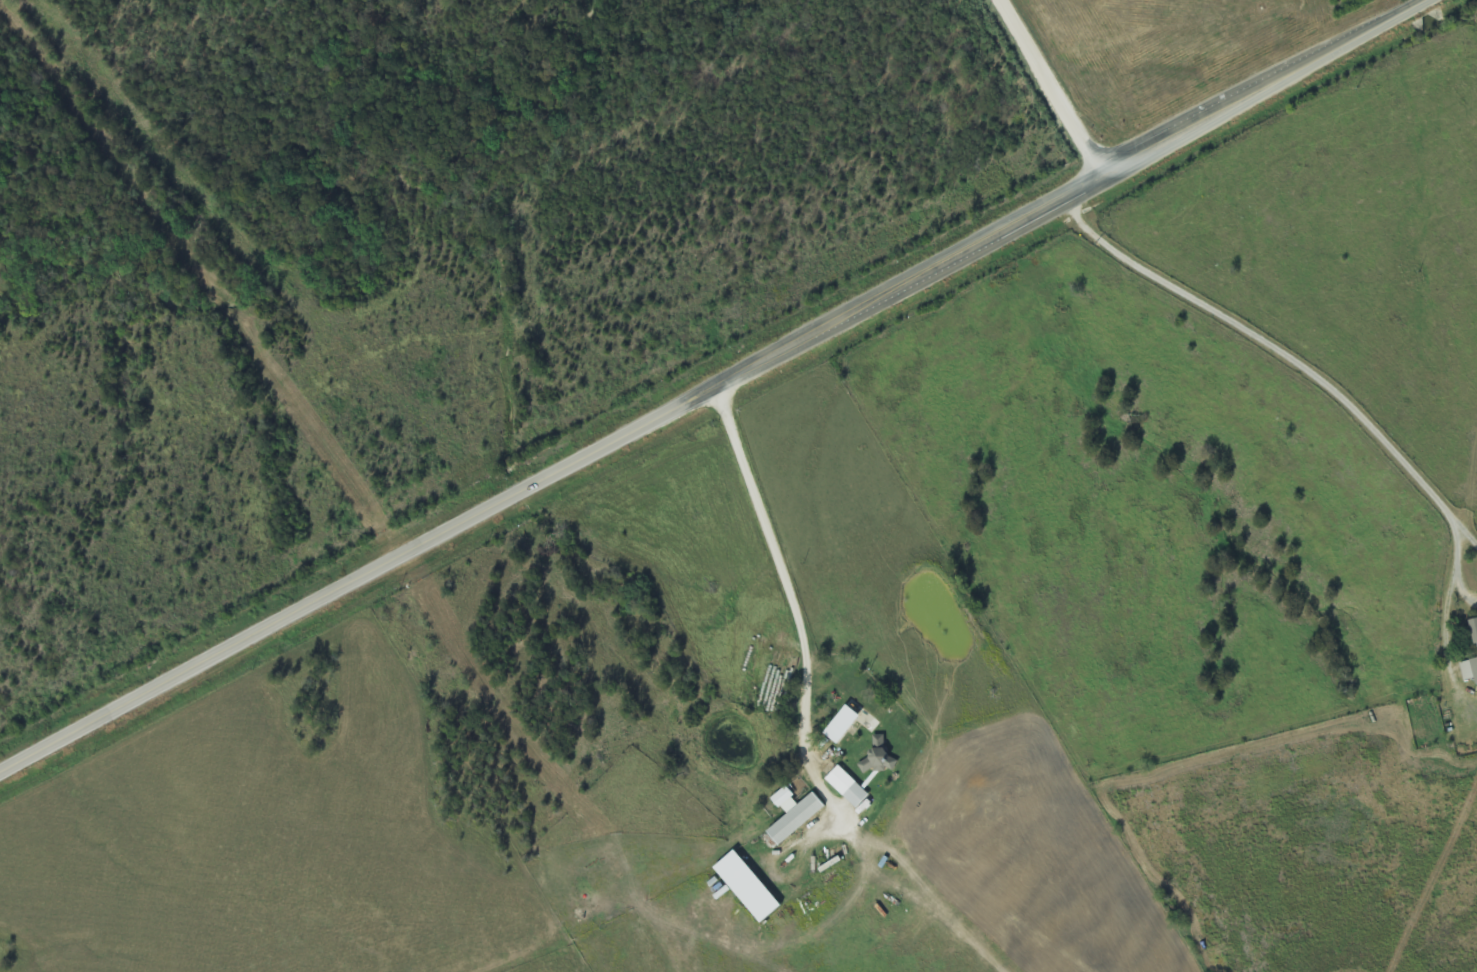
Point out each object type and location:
road: (1449, 39)
road: (1050, 87)
road: (711, 386)
building: (1473, 630)
building: (1469, 670)
building: (840, 725)
building: (878, 758)
building: (846, 787)
building: (791, 815)
building: (745, 887)

